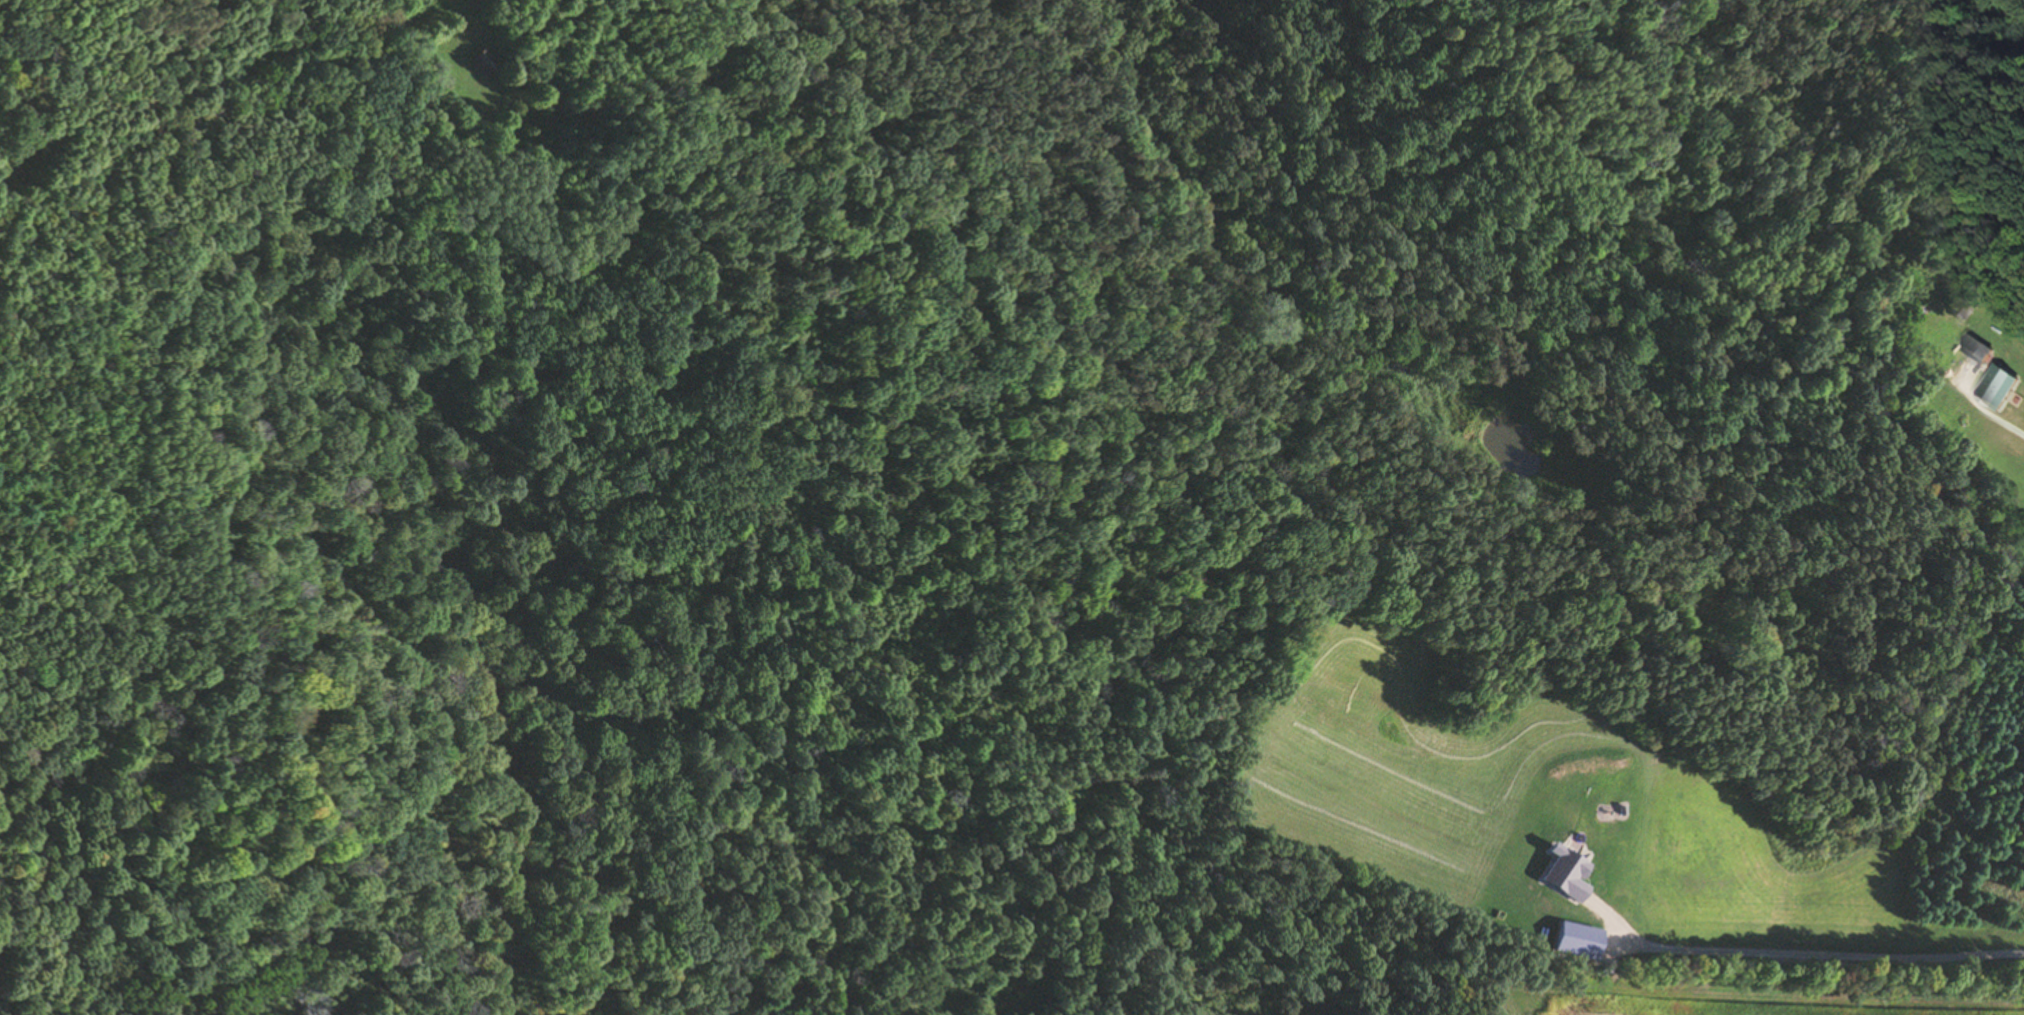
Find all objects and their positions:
building: (481, 64)
building: (1982, 353)
building: (2003, 389)
road: (1988, 415)

